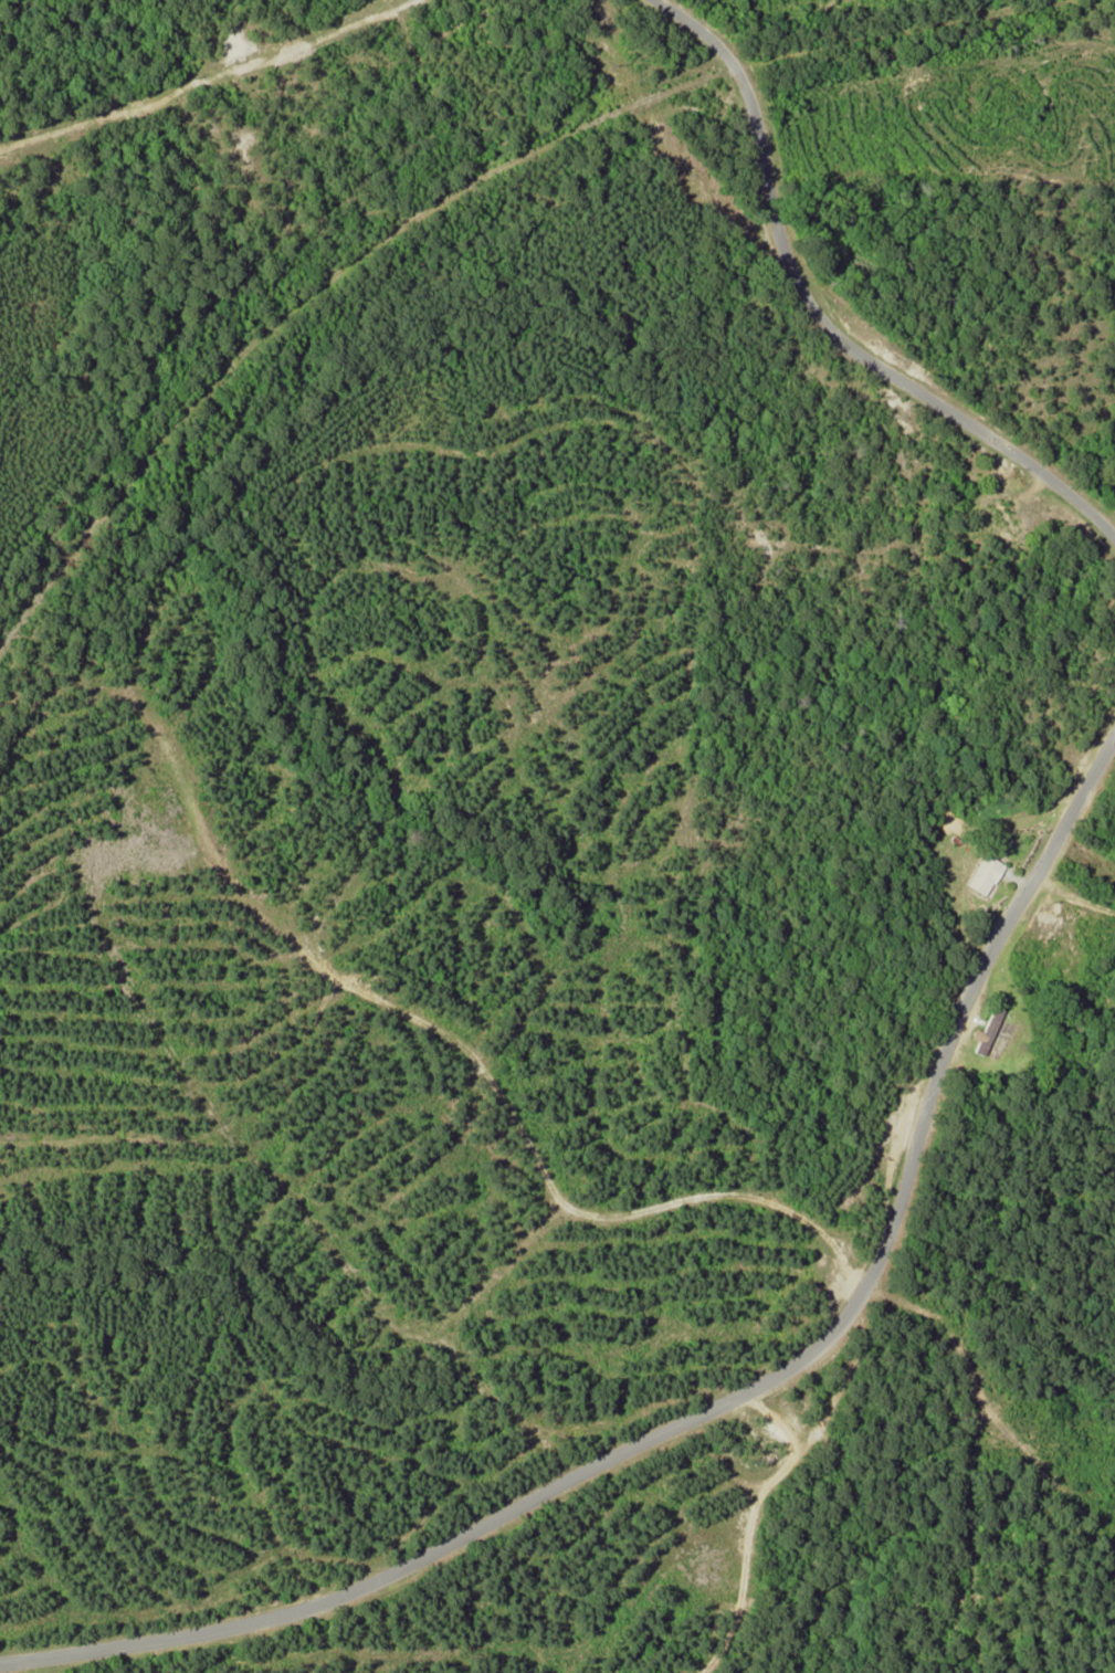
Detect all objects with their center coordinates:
railway: (308, 295)
road: (819, 317)
building: (981, 873)
building: (985, 1030)
road: (729, 1400)

